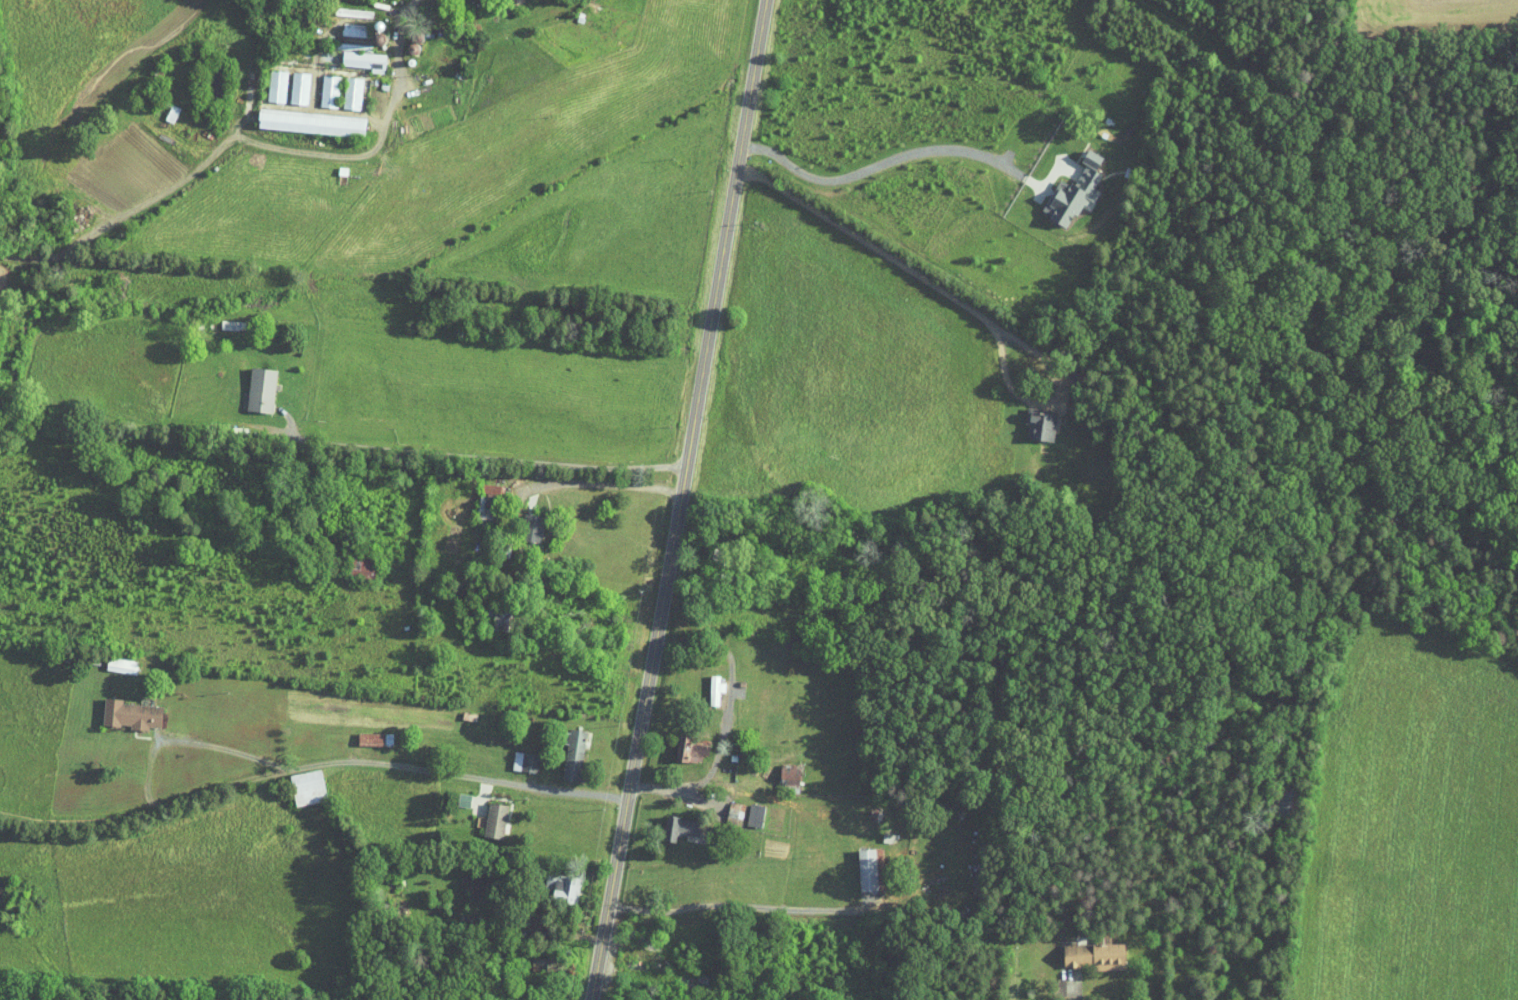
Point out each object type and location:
building: (353, 54)
road: (396, 71)
building: (265, 79)
building: (288, 81)
building: (318, 84)
building: (341, 87)
building: (300, 116)
road: (908, 154)
building: (1063, 185)
road: (964, 304)
road: (712, 328)
building: (250, 383)
building: (1030, 419)
road: (484, 454)
road: (612, 489)
building: (477, 495)
building: (520, 522)
road: (698, 561)
road: (688, 614)
road: (576, 651)
building: (704, 681)
road: (727, 720)
building: (364, 731)
building: (680, 741)
road: (220, 743)
building: (563, 747)
building: (513, 754)
building: (779, 768)
road: (451, 773)
road: (603, 776)
building: (297, 780)
road: (499, 801)
building: (724, 806)
building: (744, 808)
building: (484, 813)
building: (668, 820)
road: (653, 825)
road: (622, 828)
building: (856, 862)
building: (553, 879)
road: (586, 893)
road: (739, 905)
road: (627, 946)
building: (1083, 949)
building: (532, 958)
road: (574, 963)
road: (1078, 979)

